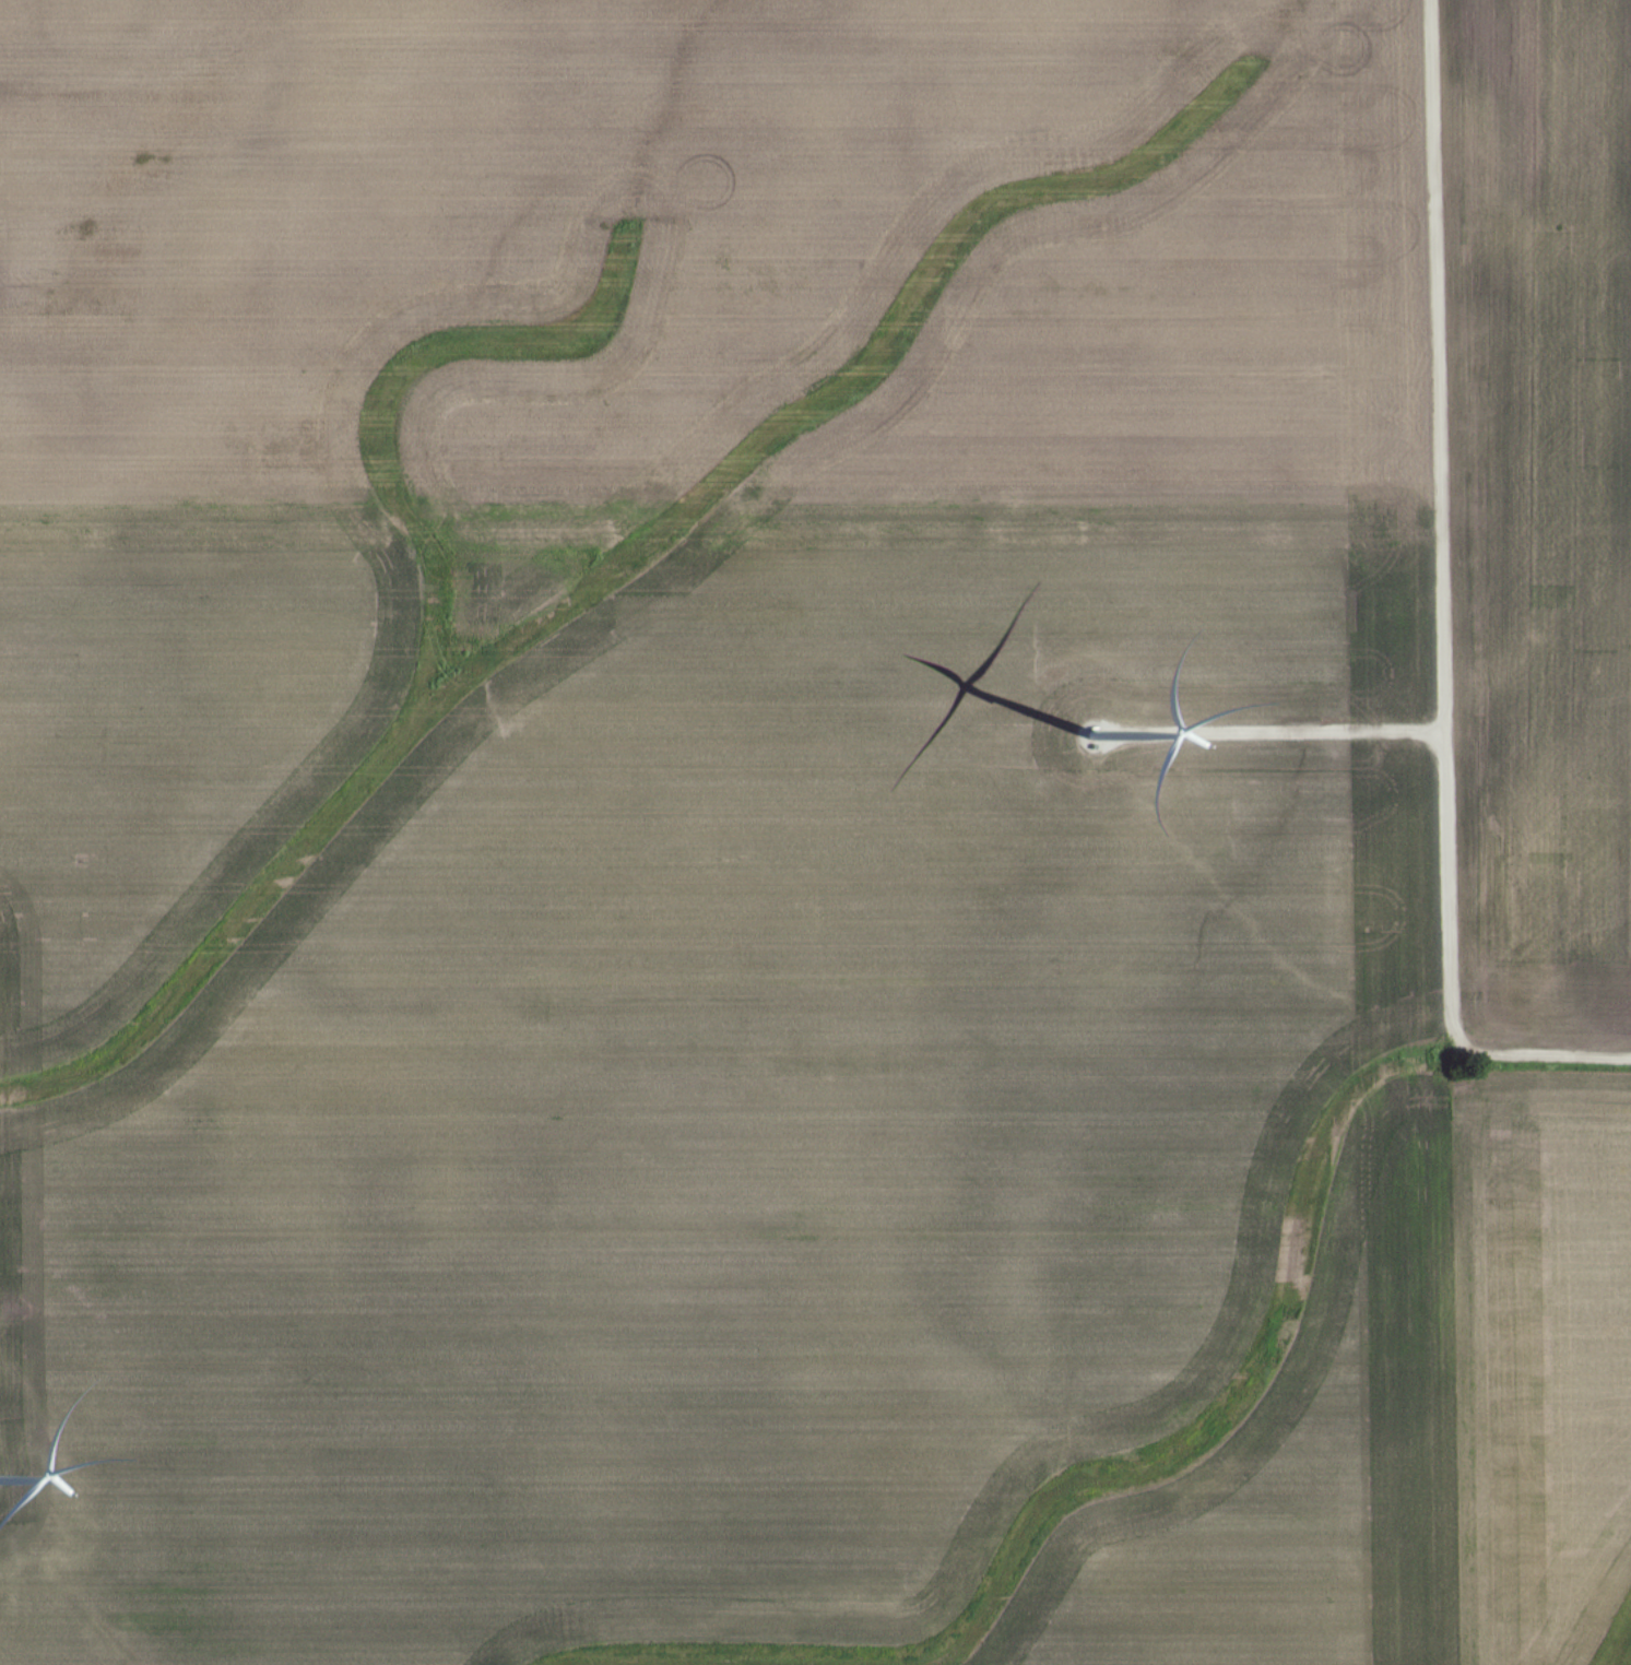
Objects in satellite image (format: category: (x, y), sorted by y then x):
road: (1443, 607)
road: (1277, 733)
wind turbine: (1098, 748)

